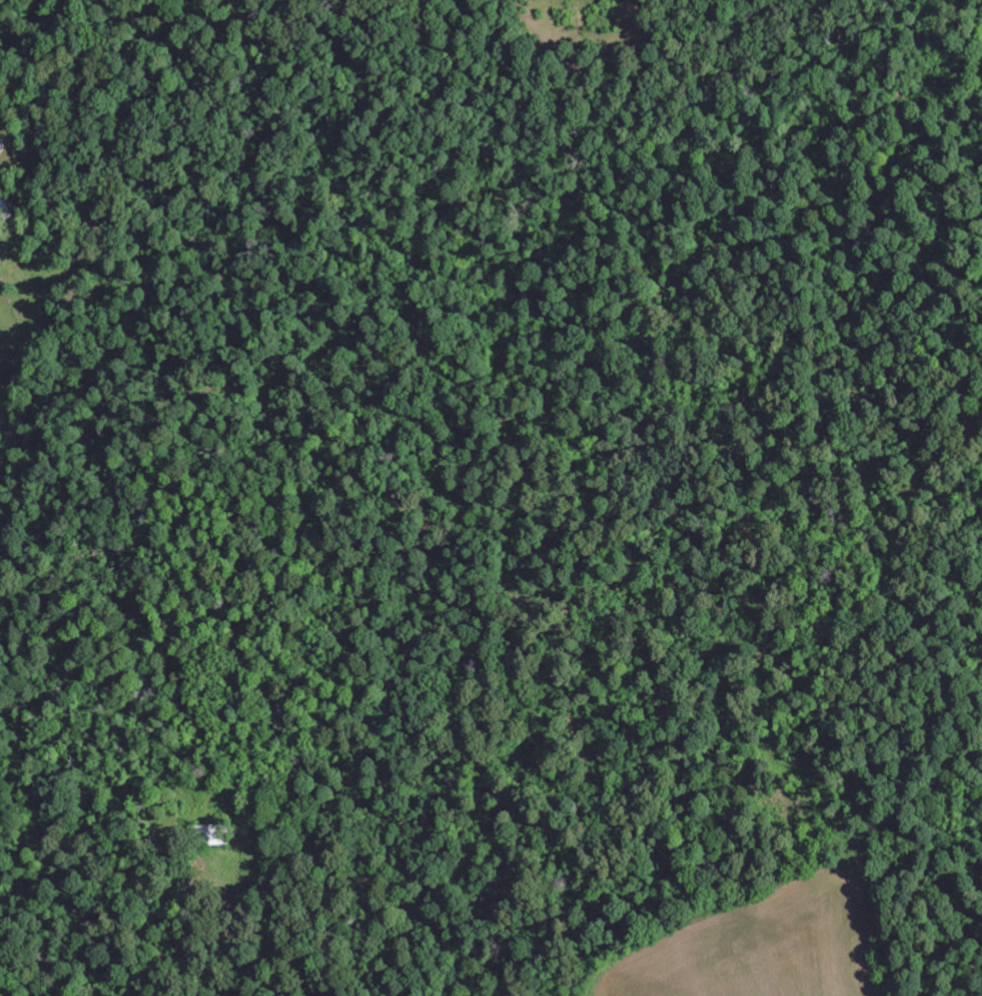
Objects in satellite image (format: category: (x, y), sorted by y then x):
building: (6, 213)
road: (69, 497)
building: (211, 836)

